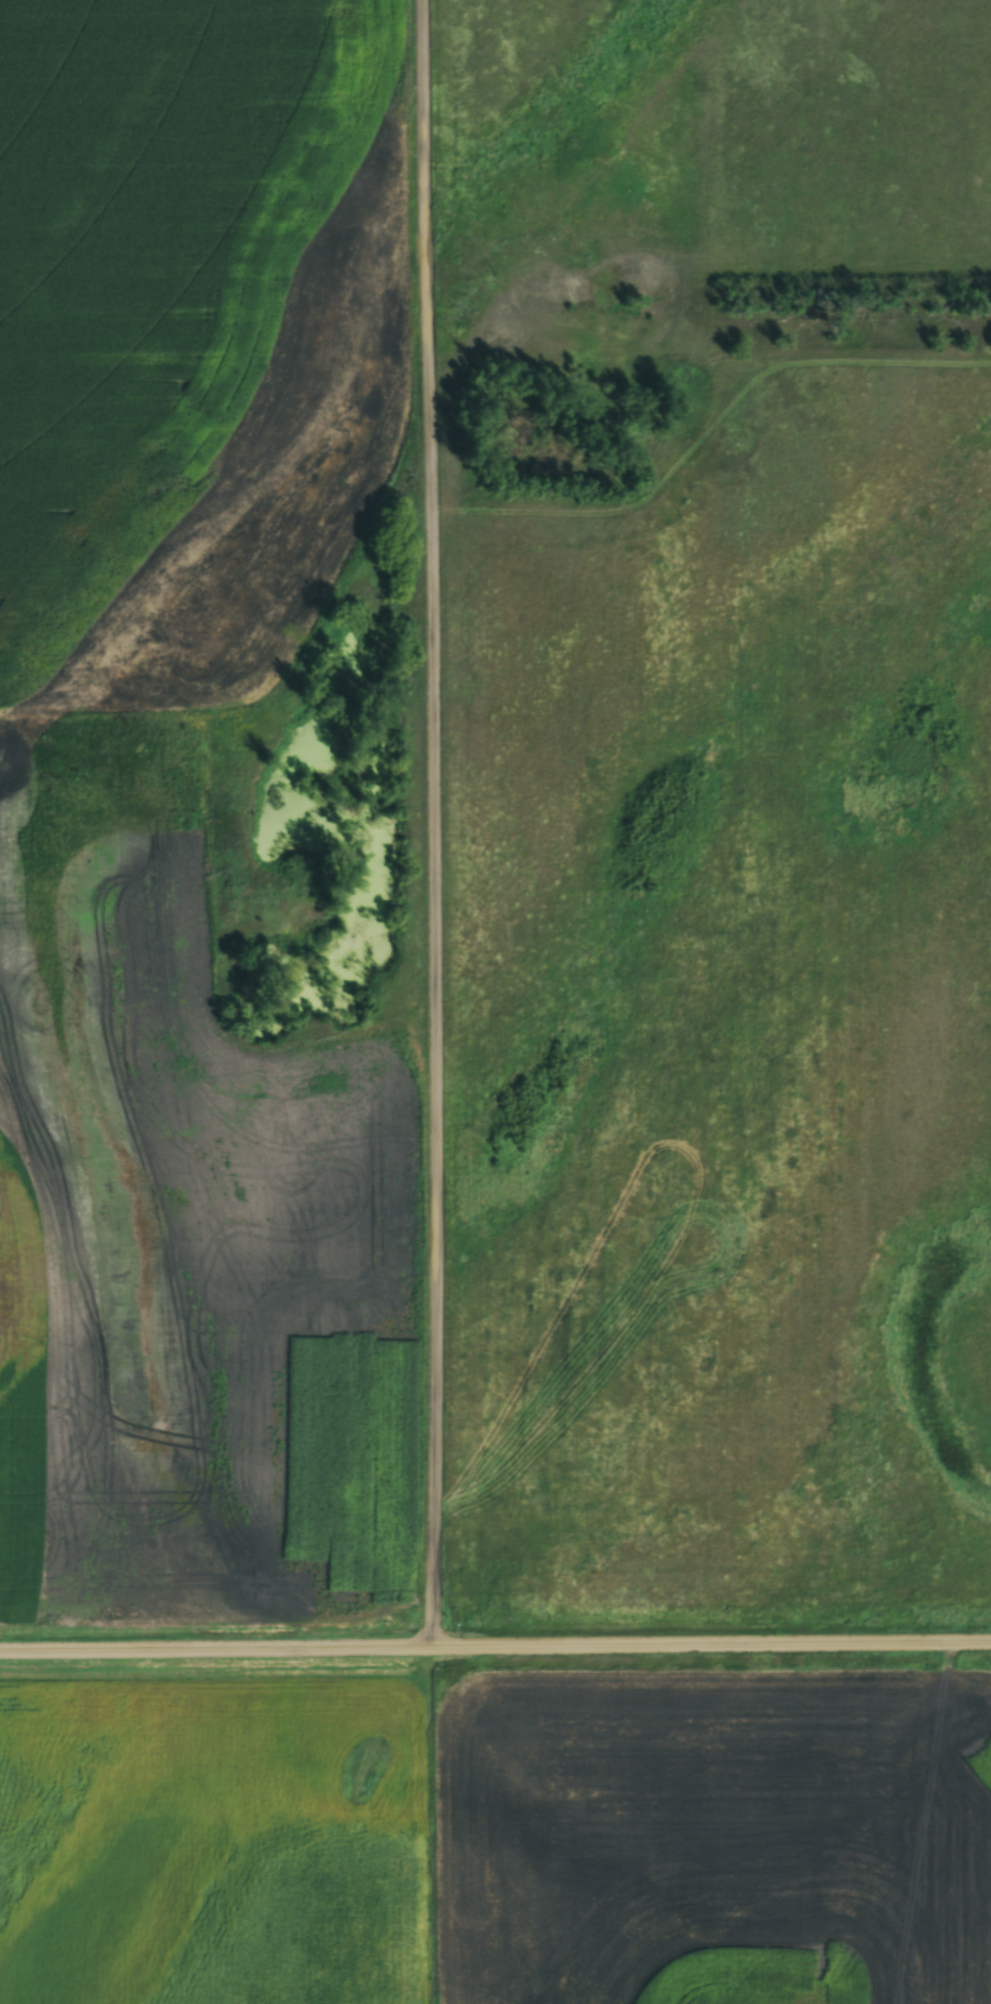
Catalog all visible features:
road: (443, 821)
road: (495, 1643)

